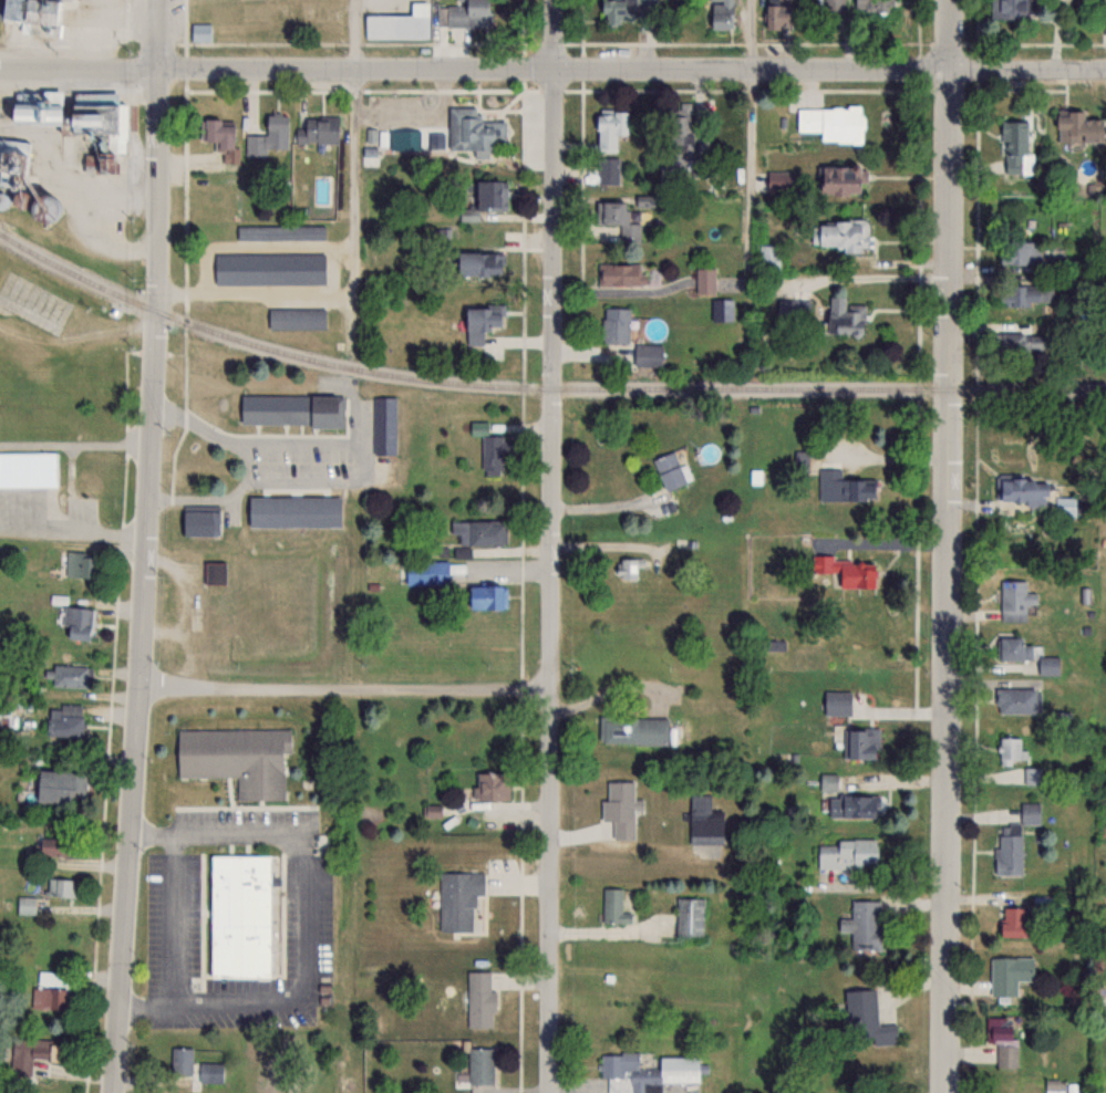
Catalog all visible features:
building: (870, 6)
building: (834, 7)
building: (1011, 8)
building: (628, 10)
building: (31, 13)
building: (467, 14)
building: (721, 14)
building: (777, 15)
building: (399, 23)
building: (200, 32)
road: (358, 37)
road: (632, 71)
road: (79, 72)
building: (72, 115)
building: (828, 123)
building: (1075, 127)
building: (466, 128)
building: (609, 128)
building: (317, 129)
road: (751, 134)
building: (269, 135)
building: (220, 136)
building: (679, 139)
building: (1015, 147)
building: (608, 170)
building: (837, 180)
building: (776, 181)
building: (10, 184)
building: (327, 188)
building: (489, 196)
building: (303, 210)
building: (618, 220)
building: (281, 232)
building: (837, 235)
building: (1019, 252)
building: (768, 257)
building: (478, 264)
building: (268, 268)
building: (620, 274)
road: (875, 275)
road: (352, 278)
building: (704, 281)
building: (1026, 294)
building: (722, 310)
building: (793, 312)
building: (296, 318)
building: (843, 318)
building: (479, 322)
building: (614, 325)
building: (1023, 343)
railway: (538, 388)
building: (291, 409)
building: (383, 425)
building: (479, 427)
building: (493, 454)
road: (249, 461)
road: (362, 464)
building: (28, 469)
building: (668, 470)
building: (87, 478)
building: (841, 486)
building: (1021, 491)
building: (1064, 506)
building: (292, 511)
building: (200, 519)
building: (480, 532)
road: (551, 545)
road: (948, 545)
road: (146, 546)
building: (80, 563)
building: (628, 568)
building: (845, 571)
building: (438, 572)
building: (215, 573)
building: (487, 596)
building: (1015, 600)
building: (75, 624)
building: (1014, 647)
building: (1047, 665)
building: (71, 674)
road: (617, 688)
road: (345, 689)
building: (1015, 700)
building: (836, 701)
building: (63, 720)
building: (632, 729)
building: (861, 742)
building: (1013, 748)
building: (236, 758)
building: (1032, 774)
building: (827, 781)
building: (490, 785)
building: (59, 787)
building: (852, 805)
building: (619, 808)
building: (703, 820)
road: (293, 836)
building: (58, 847)
building: (856, 849)
building: (61, 888)
building: (458, 899)
building: (25, 905)
building: (614, 906)
building: (239, 915)
building: (689, 916)
building: (1012, 922)
building: (864, 924)
road: (170, 944)
building: (1009, 974)
building: (53, 989)
building: (479, 999)
road: (239, 1002)
building: (866, 1017)
building: (1001, 1040)
building: (28, 1054)
building: (180, 1060)
building: (480, 1064)
building: (650, 1068)

